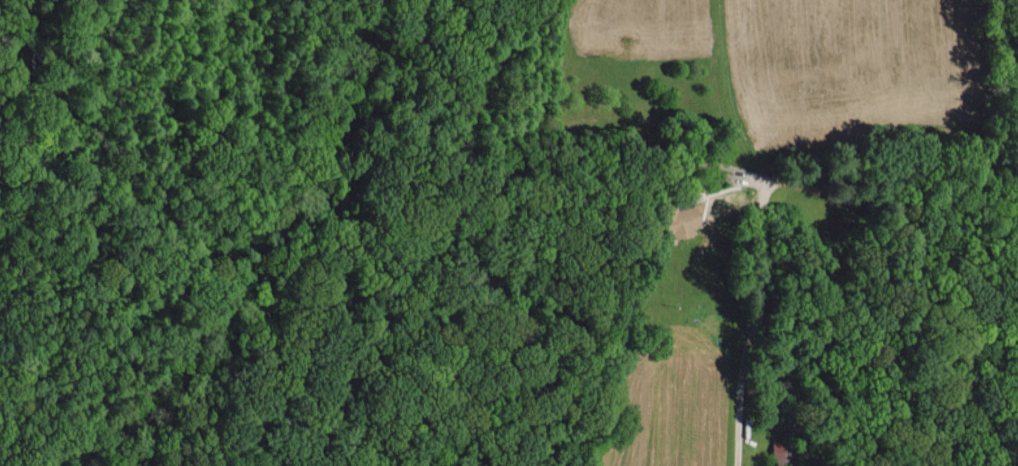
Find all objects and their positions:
building: (685, 221)

